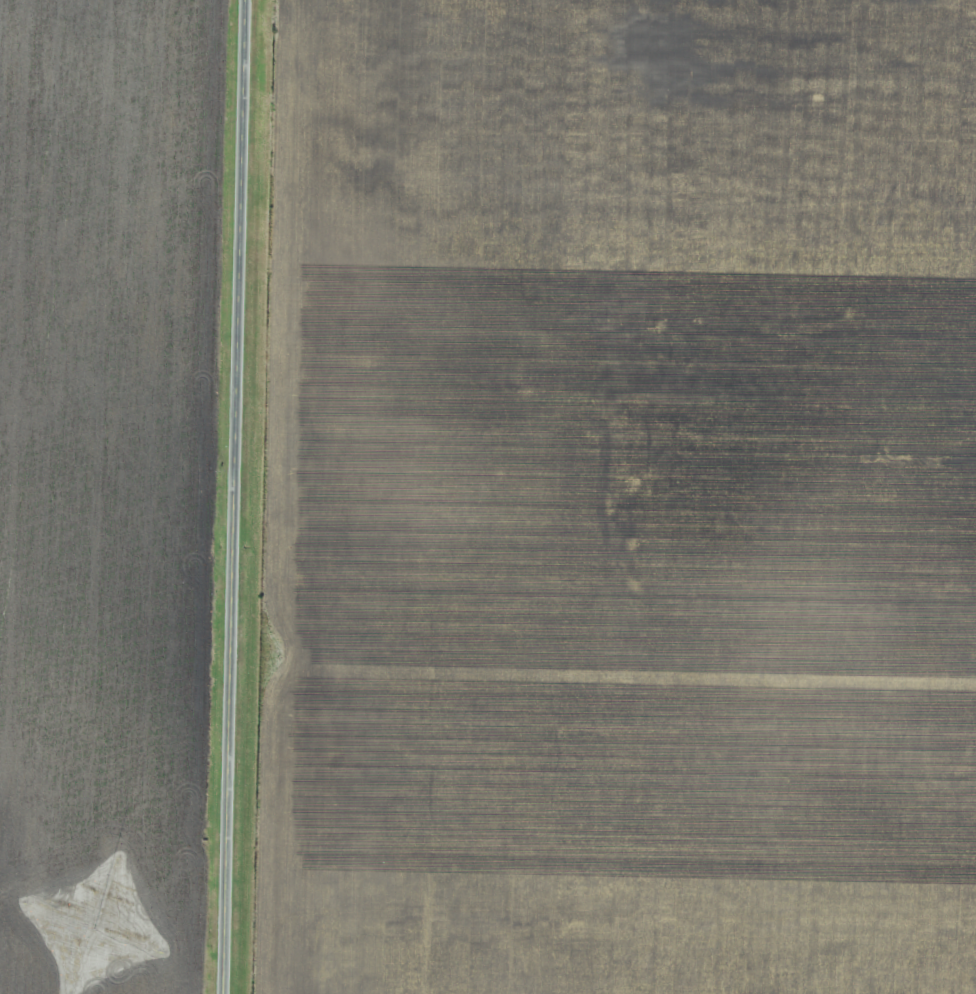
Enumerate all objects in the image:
road: (234, 497)

